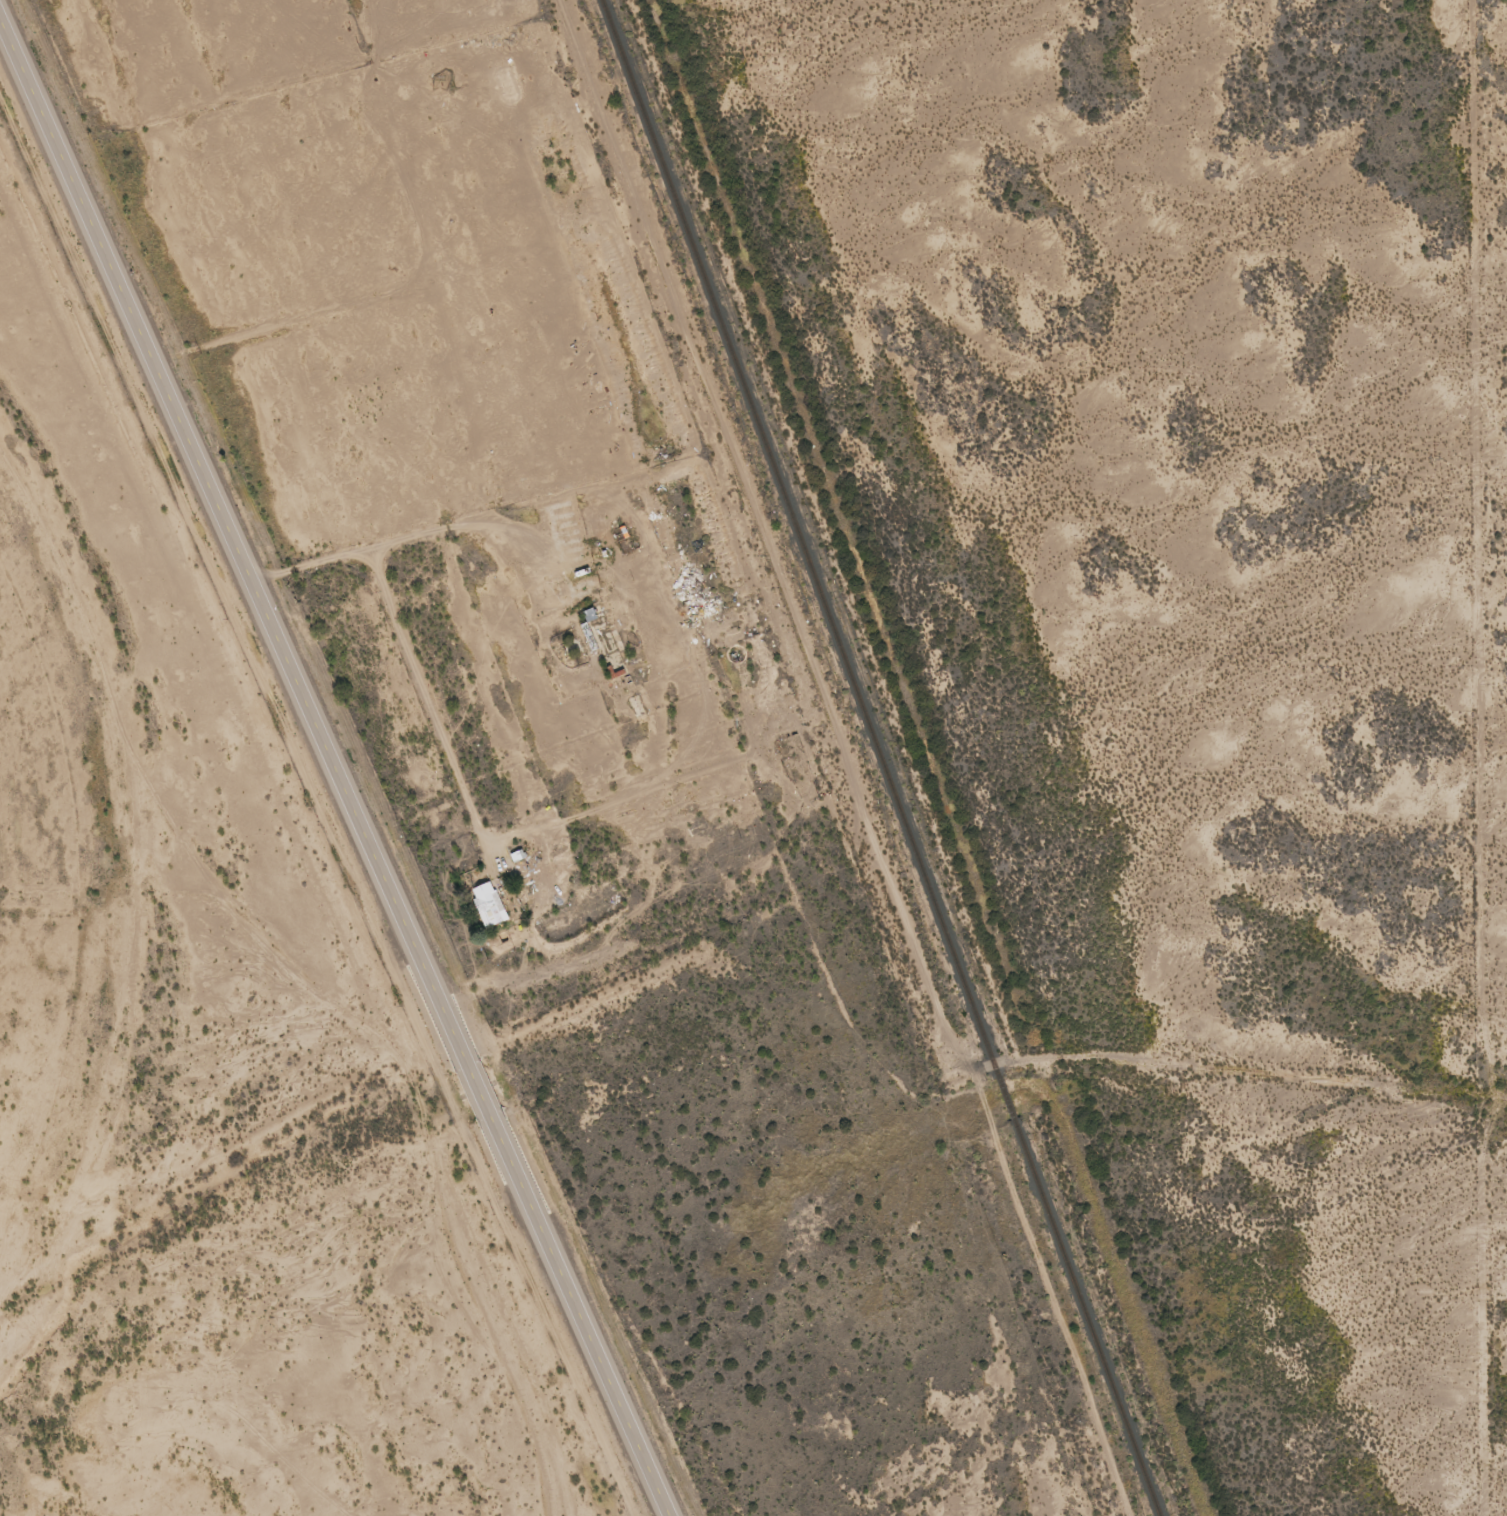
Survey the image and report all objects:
building: (588, 616)
building: (585, 645)
railway: (878, 757)
road: (330, 769)
park: (1077, 898)
building: (487, 906)
road: (927, 1061)

